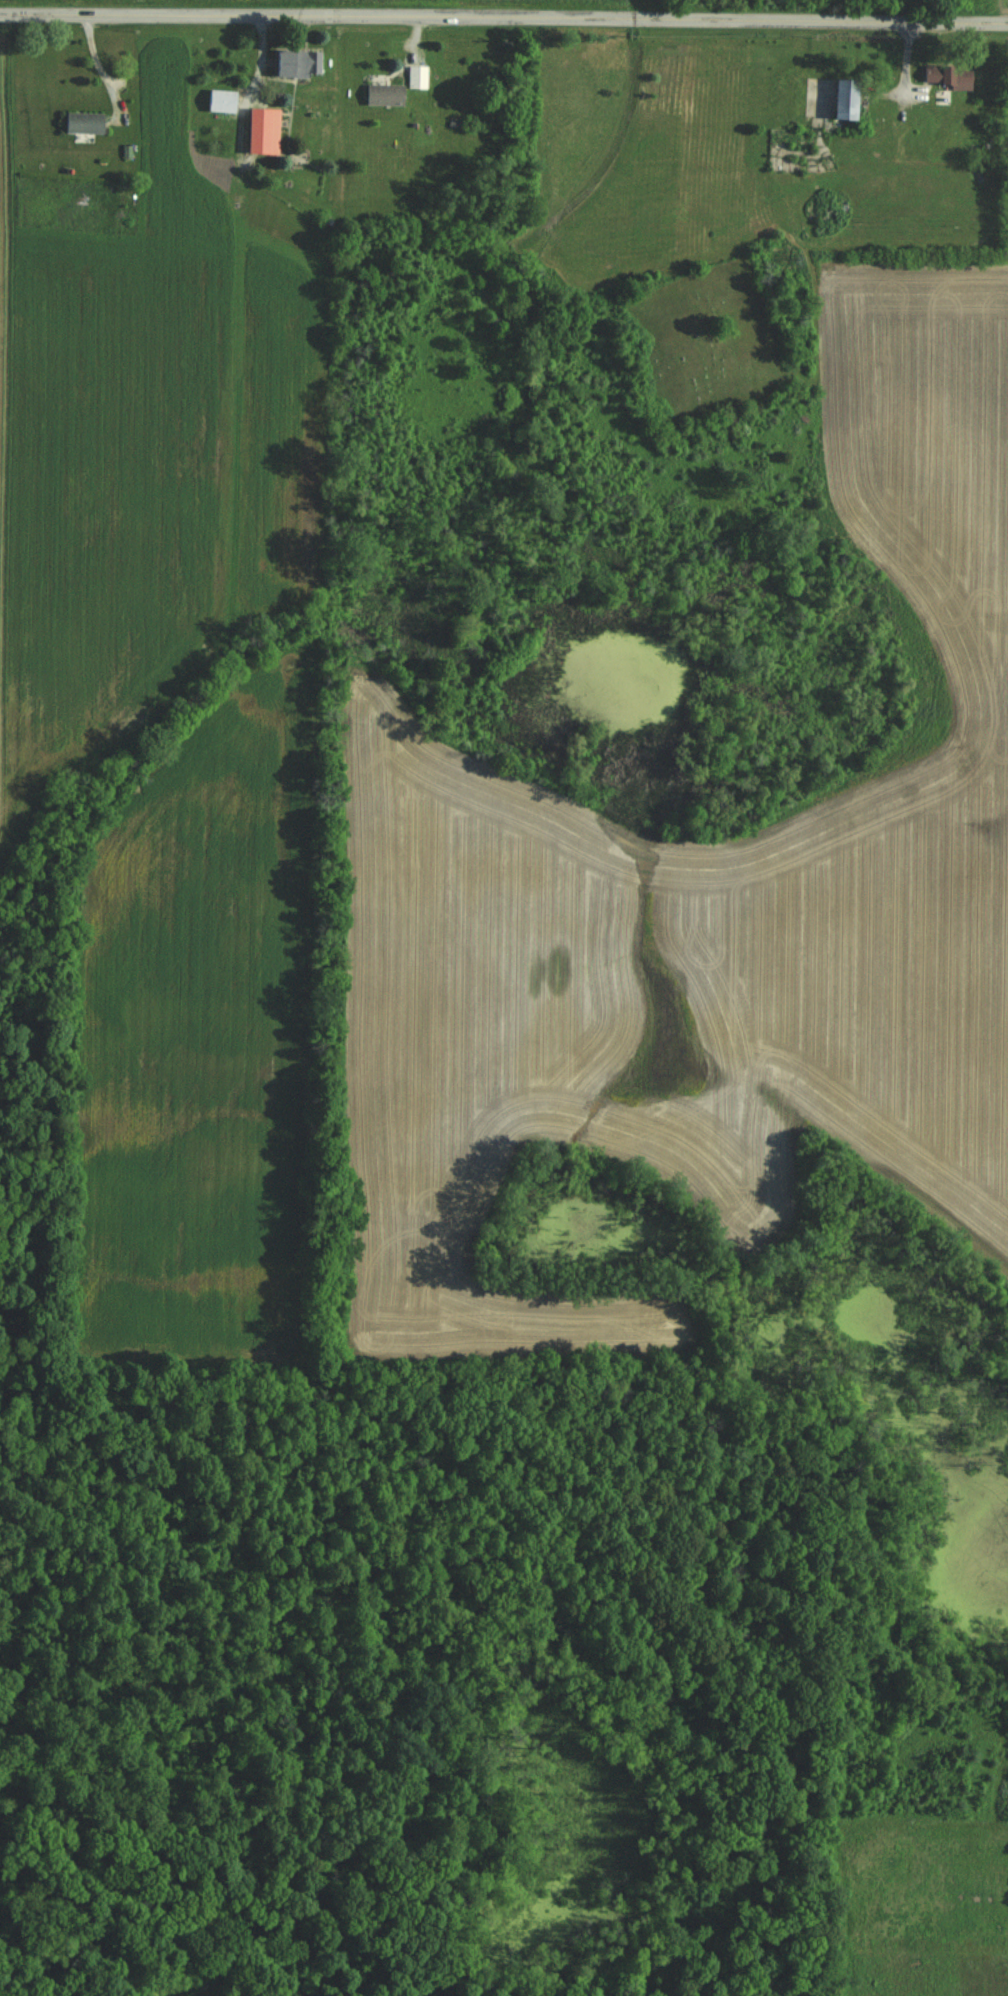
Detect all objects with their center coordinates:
road: (503, 16)
road: (103, 62)
building: (292, 64)
building: (414, 77)
building: (944, 77)
building: (380, 95)
building: (941, 98)
building: (218, 101)
building: (838, 106)
building: (81, 122)
building: (259, 131)

